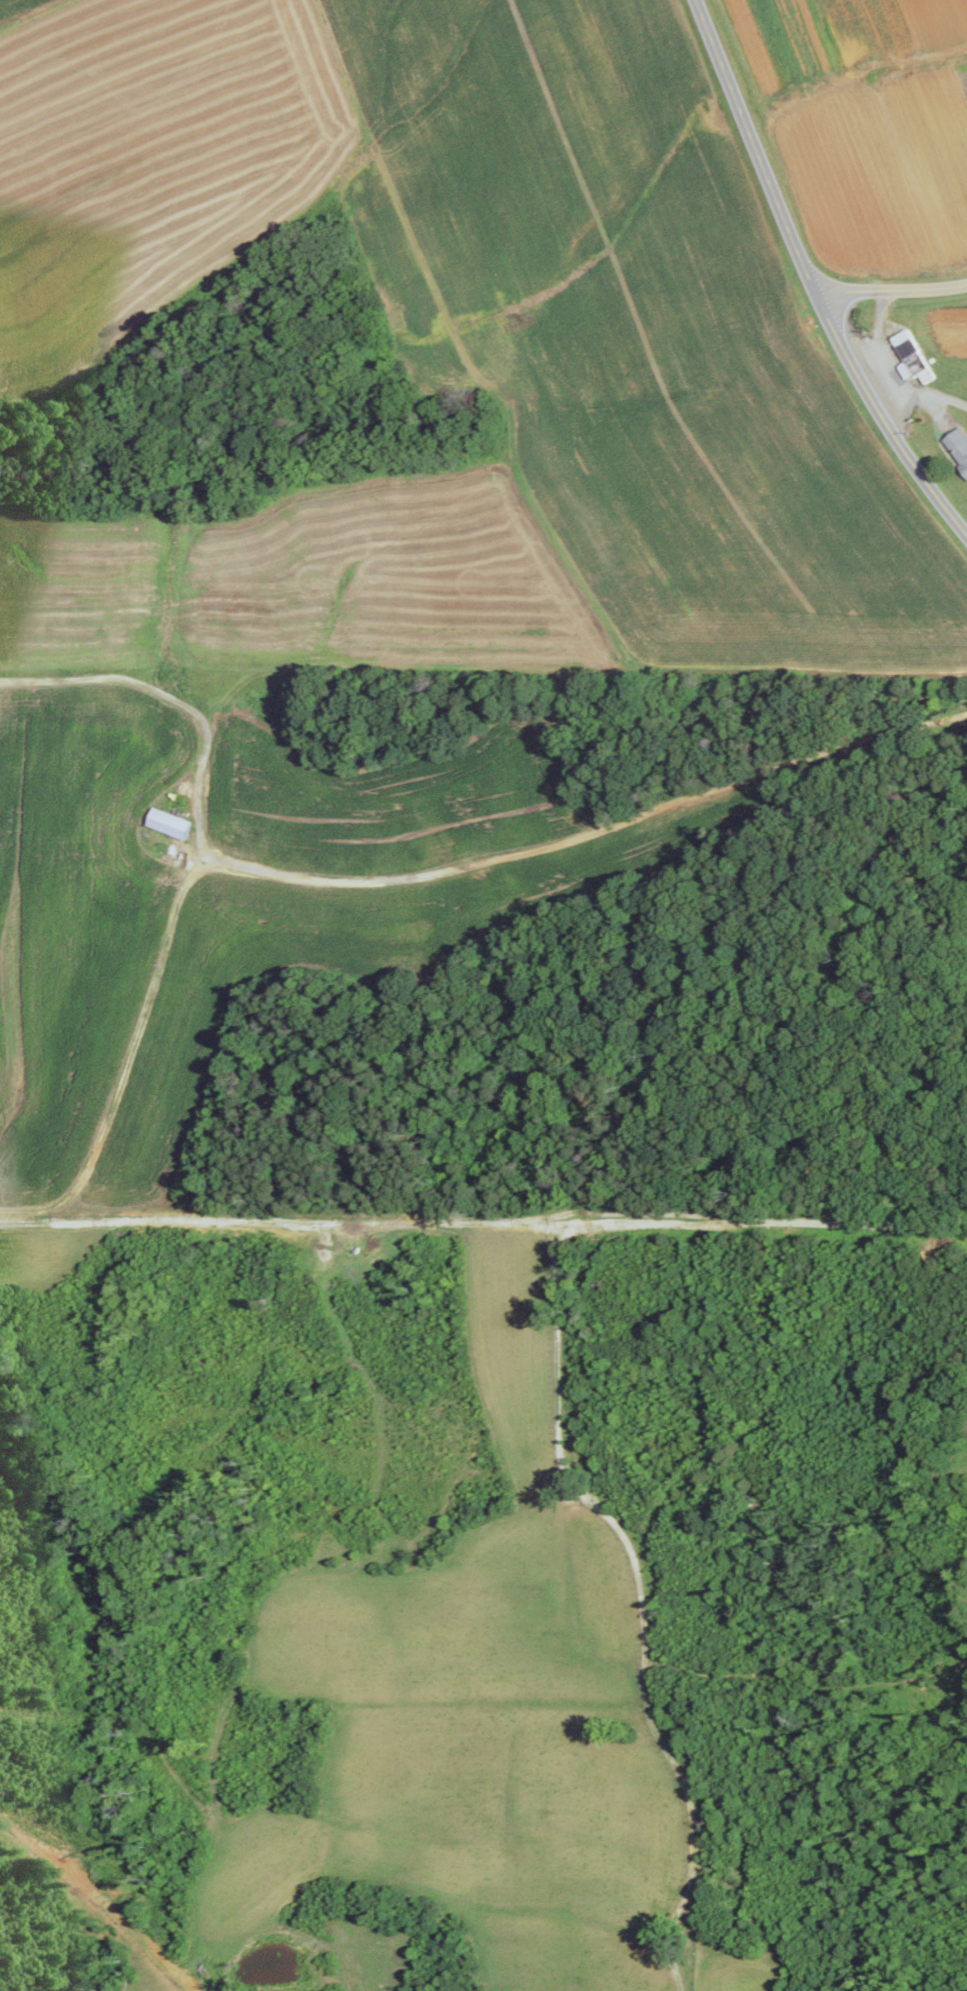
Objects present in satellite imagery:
road: (809, 278)
road: (891, 292)
building: (914, 357)
road: (889, 376)
road: (905, 414)
building: (958, 445)
building: (171, 823)
road: (586, 835)
road: (483, 1185)

